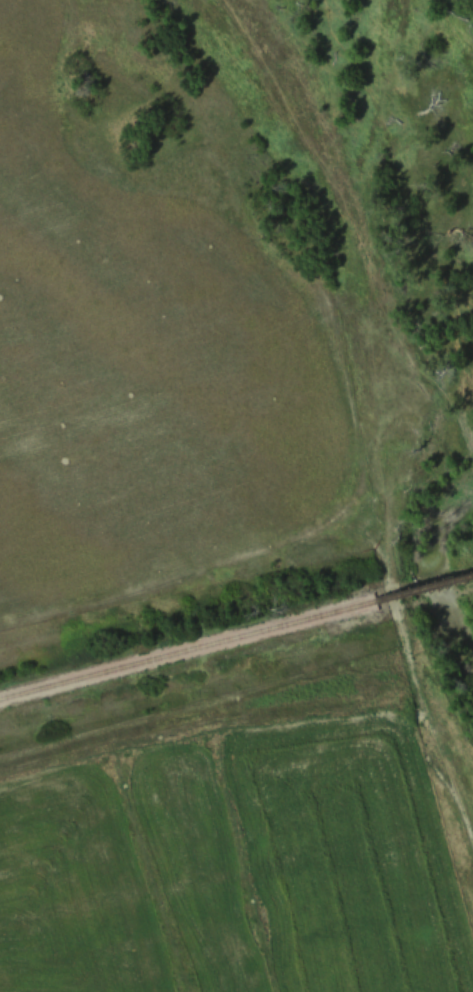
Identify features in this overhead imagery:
railway: (424, 589)
railway: (187, 650)

